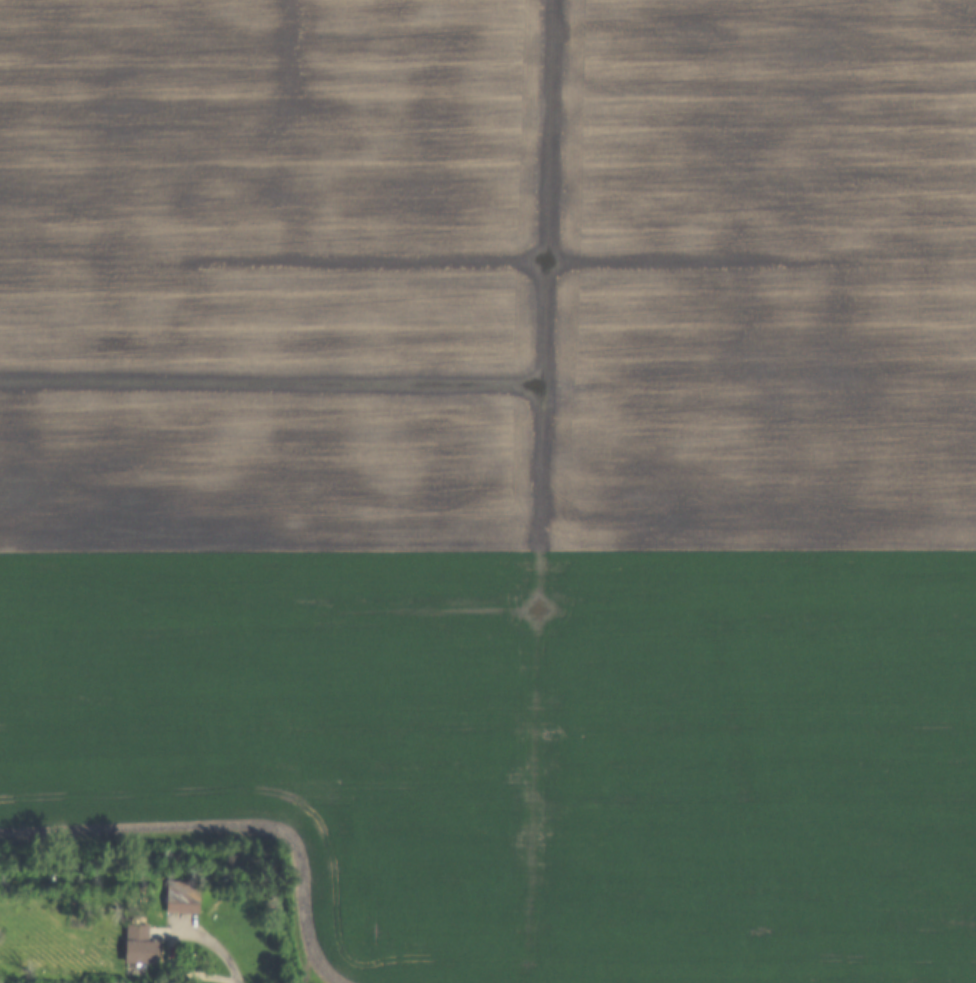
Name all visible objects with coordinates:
crop: (504, 471)
building: (181, 896)
road: (209, 942)
building: (138, 944)

